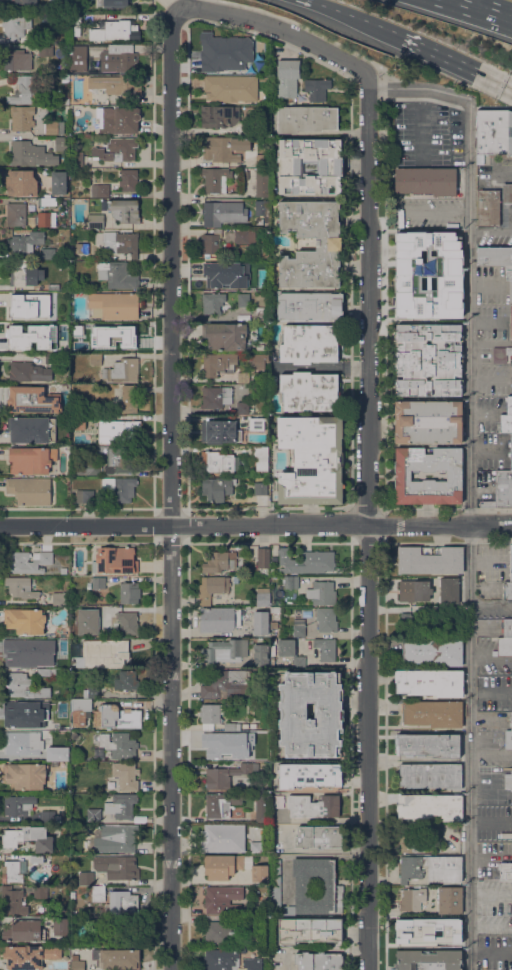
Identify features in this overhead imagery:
building: (24, 3)
building: (115, 3)
road: (485, 9)
road: (349, 14)
building: (75, 24)
building: (15, 25)
road: (275, 26)
road: (312, 29)
building: (114, 30)
building: (45, 49)
building: (224, 51)
road: (450, 57)
building: (78, 58)
building: (119, 58)
building: (16, 59)
building: (92, 71)
building: (288, 77)
building: (65, 78)
building: (73, 78)
building: (118, 85)
building: (230, 87)
building: (24, 89)
building: (317, 89)
building: (65, 100)
building: (219, 115)
building: (22, 117)
building: (98, 117)
building: (306, 118)
building: (120, 119)
building: (54, 127)
building: (251, 127)
building: (493, 131)
building: (61, 143)
building: (224, 148)
building: (117, 149)
building: (31, 154)
building: (77, 159)
building: (262, 160)
building: (329, 166)
road: (505, 170)
building: (245, 174)
building: (215, 179)
building: (128, 180)
building: (426, 181)
building: (58, 182)
building: (262, 182)
building: (22, 183)
building: (100, 190)
building: (47, 201)
building: (492, 204)
building: (261, 207)
building: (123, 210)
building: (223, 213)
building: (16, 214)
building: (45, 218)
building: (96, 221)
road: (509, 228)
building: (244, 236)
building: (25, 241)
building: (118, 242)
building: (210, 243)
building: (328, 243)
building: (82, 248)
building: (48, 253)
building: (494, 255)
road: (469, 262)
building: (25, 274)
building: (117, 274)
building: (224, 274)
building: (427, 274)
building: (509, 279)
building: (53, 287)
building: (243, 299)
building: (213, 302)
building: (115, 304)
building: (30, 305)
building: (310, 305)
building: (262, 312)
building: (511, 321)
building: (114, 324)
building: (225, 335)
building: (130, 336)
building: (26, 337)
building: (309, 343)
building: (259, 347)
building: (501, 353)
building: (50, 358)
building: (95, 358)
building: (428, 360)
building: (257, 361)
building: (218, 363)
building: (27, 369)
building: (122, 370)
building: (243, 377)
building: (309, 391)
building: (215, 396)
building: (127, 399)
building: (32, 400)
building: (244, 407)
building: (507, 417)
building: (428, 421)
building: (78, 422)
building: (256, 422)
building: (32, 429)
building: (117, 430)
building: (219, 431)
building: (509, 454)
building: (260, 457)
building: (31, 459)
building: (311, 459)
building: (118, 460)
building: (220, 462)
building: (88, 467)
building: (403, 476)
road: (170, 487)
building: (119, 488)
building: (217, 488)
building: (260, 488)
building: (501, 489)
building: (29, 490)
building: (84, 495)
road: (366, 520)
road: (183, 525)
road: (439, 525)
building: (263, 557)
building: (116, 559)
building: (430, 559)
building: (27, 561)
building: (220, 561)
building: (306, 561)
building: (510, 562)
building: (63, 570)
building: (290, 581)
building: (98, 582)
building: (21, 587)
building: (212, 588)
building: (417, 590)
building: (449, 590)
building: (129, 591)
building: (322, 592)
building: (263, 596)
building: (59, 599)
building: (275, 610)
building: (93, 612)
building: (440, 612)
building: (219, 619)
building: (326, 619)
building: (25, 620)
building: (87, 620)
building: (260, 621)
building: (128, 622)
building: (410, 622)
building: (273, 624)
building: (299, 627)
building: (507, 628)
building: (273, 641)
building: (61, 642)
building: (51, 644)
building: (286, 647)
building: (503, 647)
building: (325, 648)
building: (224, 650)
building: (433, 651)
building: (102, 653)
building: (20, 654)
building: (260, 655)
building: (299, 661)
building: (43, 672)
building: (126, 680)
building: (430, 682)
building: (226, 683)
building: (24, 686)
building: (85, 699)
building: (25, 713)
building: (433, 713)
building: (212, 714)
building: (329, 714)
building: (117, 716)
building: (511, 720)
building: (245, 725)
building: (253, 725)
building: (232, 726)
building: (244, 733)
building: (508, 739)
building: (22, 743)
building: (119, 744)
building: (217, 745)
building: (428, 745)
road: (469, 748)
building: (62, 754)
building: (231, 756)
building: (54, 763)
building: (25, 775)
building: (126, 775)
building: (227, 775)
building: (309, 775)
building: (431, 775)
building: (508, 780)
building: (277, 801)
building: (19, 804)
building: (221, 804)
building: (121, 806)
building: (313, 806)
building: (430, 806)
building: (261, 807)
building: (93, 814)
building: (49, 816)
building: (318, 836)
building: (222, 837)
building: (28, 838)
building: (116, 838)
building: (411, 841)
building: (256, 847)
road: (12, 849)
building: (36, 858)
building: (223, 865)
building: (22, 866)
building: (117, 867)
building: (431, 868)
building: (259, 871)
building: (505, 871)
building: (11, 872)
building: (84, 878)
building: (307, 887)
building: (40, 891)
building: (98, 893)
building: (72, 895)
building: (412, 899)
building: (450, 899)
building: (222, 900)
building: (12, 901)
building: (122, 903)
building: (256, 924)
building: (60, 926)
building: (122, 930)
building: (310, 930)
building: (426, 930)
building: (24, 931)
building: (219, 932)
building: (243, 950)
building: (29, 956)
building: (117, 959)
building: (221, 959)
building: (428, 960)
building: (318, 961)
building: (253, 963)
building: (77, 965)

